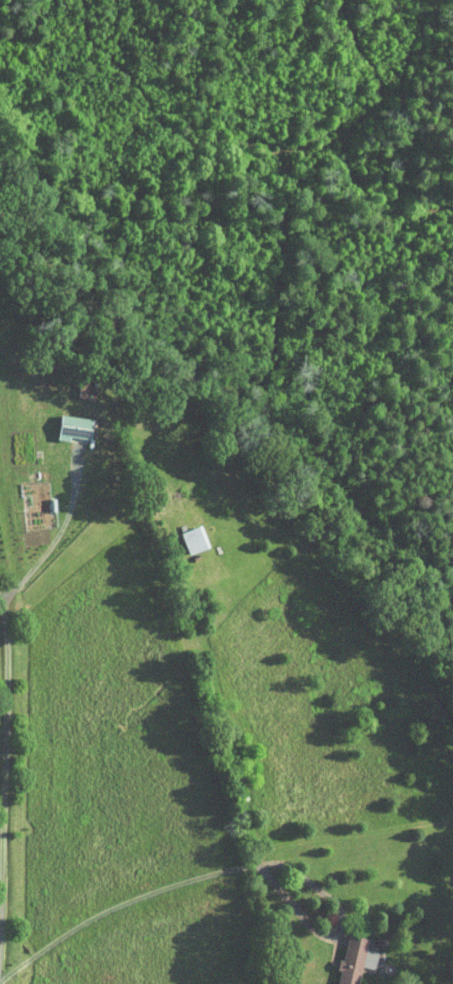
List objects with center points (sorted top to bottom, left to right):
building: (66, 420)
building: (186, 532)
road: (55, 535)
road: (4, 780)
road: (121, 904)
road: (341, 926)
building: (346, 954)

